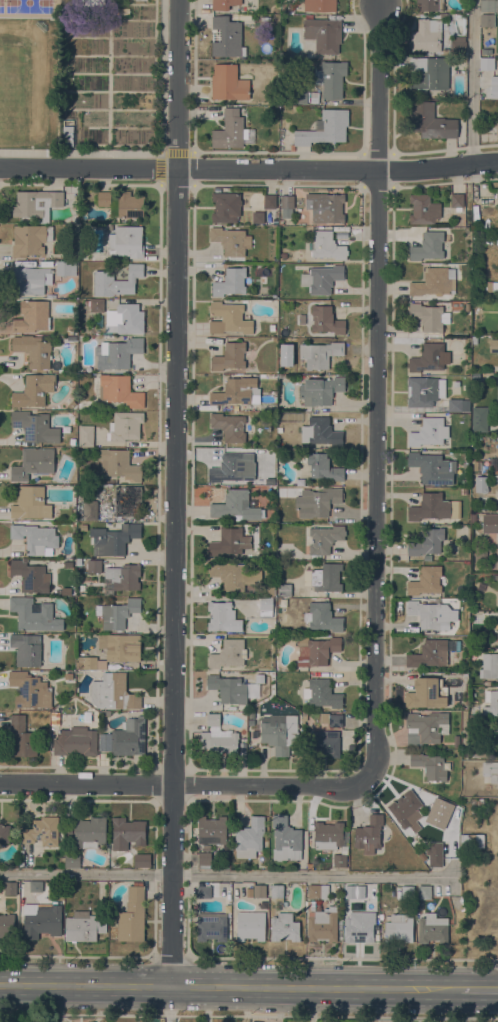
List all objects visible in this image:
building: (89, 3)
building: (224, 4)
building: (429, 4)
building: (320, 5)
building: (489, 5)
building: (288, 6)
building: (123, 11)
building: (235, 16)
building: (488, 20)
building: (324, 33)
building: (427, 35)
building: (227, 37)
building: (458, 46)
building: (486, 47)
building: (446, 51)
building: (487, 63)
building: (309, 69)
building: (429, 74)
building: (331, 78)
building: (228, 82)
road: (472, 82)
building: (493, 86)
building: (497, 90)
building: (284, 92)
building: (482, 95)
building: (297, 96)
building: (314, 96)
building: (430, 121)
building: (324, 128)
building: (497, 129)
building: (229, 130)
building: (68, 135)
road: (249, 169)
building: (73, 189)
building: (497, 193)
building: (75, 198)
building: (270, 201)
building: (457, 201)
building: (37, 203)
building: (122, 203)
building: (287, 205)
building: (225, 207)
building: (325, 207)
building: (424, 209)
building: (258, 216)
building: (30, 239)
building: (230, 240)
building: (126, 242)
building: (327, 245)
building: (428, 246)
building: (69, 248)
building: (82, 251)
building: (284, 254)
building: (95, 256)
building: (66, 268)
building: (322, 278)
building: (31, 280)
building: (116, 281)
building: (231, 281)
building: (433, 281)
building: (490, 286)
building: (495, 288)
building: (50, 295)
building: (97, 305)
building: (430, 316)
building: (32, 317)
building: (228, 318)
building: (125, 319)
building: (326, 319)
building: (272, 327)
building: (70, 331)
building: (474, 339)
building: (493, 345)
building: (33, 350)
building: (119, 354)
building: (320, 354)
building: (230, 356)
building: (430, 357)
building: (476, 375)
building: (281, 376)
building: (455, 383)
building: (34, 390)
building: (119, 390)
building: (321, 390)
building: (425, 390)
building: (236, 391)
road: (378, 391)
building: (72, 403)
building: (458, 405)
building: (480, 419)
building: (35, 426)
building: (125, 426)
building: (229, 426)
building: (321, 431)
building: (428, 432)
building: (86, 435)
building: (72, 441)
building: (33, 462)
building: (465, 462)
building: (119, 464)
building: (477, 465)
building: (227, 467)
building: (323, 467)
building: (433, 467)
building: (483, 468)
building: (496, 478)
building: (480, 483)
building: (281, 489)
building: (464, 491)
road: (176, 493)
building: (128, 500)
building: (317, 501)
building: (31, 502)
building: (236, 505)
building: (434, 507)
building: (90, 510)
building: (473, 517)
building: (490, 523)
building: (83, 527)
building: (36, 538)
building: (325, 538)
building: (114, 539)
building: (232, 541)
building: (427, 542)
building: (428, 557)
building: (94, 565)
building: (234, 574)
building: (31, 576)
building: (124, 576)
building: (494, 576)
building: (324, 577)
building: (426, 580)
building: (269, 589)
building: (284, 589)
building: (266, 607)
building: (118, 613)
building: (34, 614)
building: (432, 614)
building: (223, 617)
building: (324, 617)
building: (121, 646)
building: (26, 649)
building: (316, 650)
building: (432, 652)
building: (229, 653)
building: (86, 662)
building: (489, 665)
building: (68, 675)
building: (259, 675)
building: (486, 682)
building: (228, 688)
building: (30, 690)
building: (113, 692)
building: (322, 693)
building: (427, 693)
building: (491, 702)
building: (304, 717)
building: (55, 718)
building: (332, 719)
building: (251, 721)
building: (426, 727)
building: (280, 732)
building: (129, 737)
building: (219, 737)
building: (497, 737)
building: (21, 738)
building: (75, 741)
building: (456, 741)
building: (325, 743)
building: (481, 752)
building: (430, 766)
building: (490, 771)
road: (184, 784)
building: (477, 805)
building: (408, 811)
building: (480, 818)
building: (212, 829)
building: (42, 831)
building: (68, 831)
building: (90, 831)
building: (127, 832)
building: (4, 833)
building: (369, 834)
building: (328, 835)
building: (250, 838)
building: (286, 839)
building: (472, 840)
building: (206, 847)
building: (225, 847)
building: (435, 853)
building: (72, 858)
building: (204, 859)
building: (142, 860)
building: (340, 860)
building: (310, 866)
road: (226, 874)
building: (36, 886)
building: (10, 888)
building: (260, 890)
building: (203, 891)
building: (277, 891)
building: (318, 891)
building: (351, 891)
building: (407, 891)
building: (249, 892)
building: (425, 892)
building: (132, 914)
building: (40, 919)
building: (340, 923)
building: (322, 924)
building: (7, 925)
building: (250, 925)
building: (84, 926)
building: (212, 926)
building: (284, 927)
building: (359, 927)
building: (399, 928)
building: (433, 928)
road: (77, 955)
road: (170, 957)
road: (342, 958)
road: (229, 988)
road: (478, 990)
road: (51, 1004)
road: (168, 1004)
road: (248, 1015)

